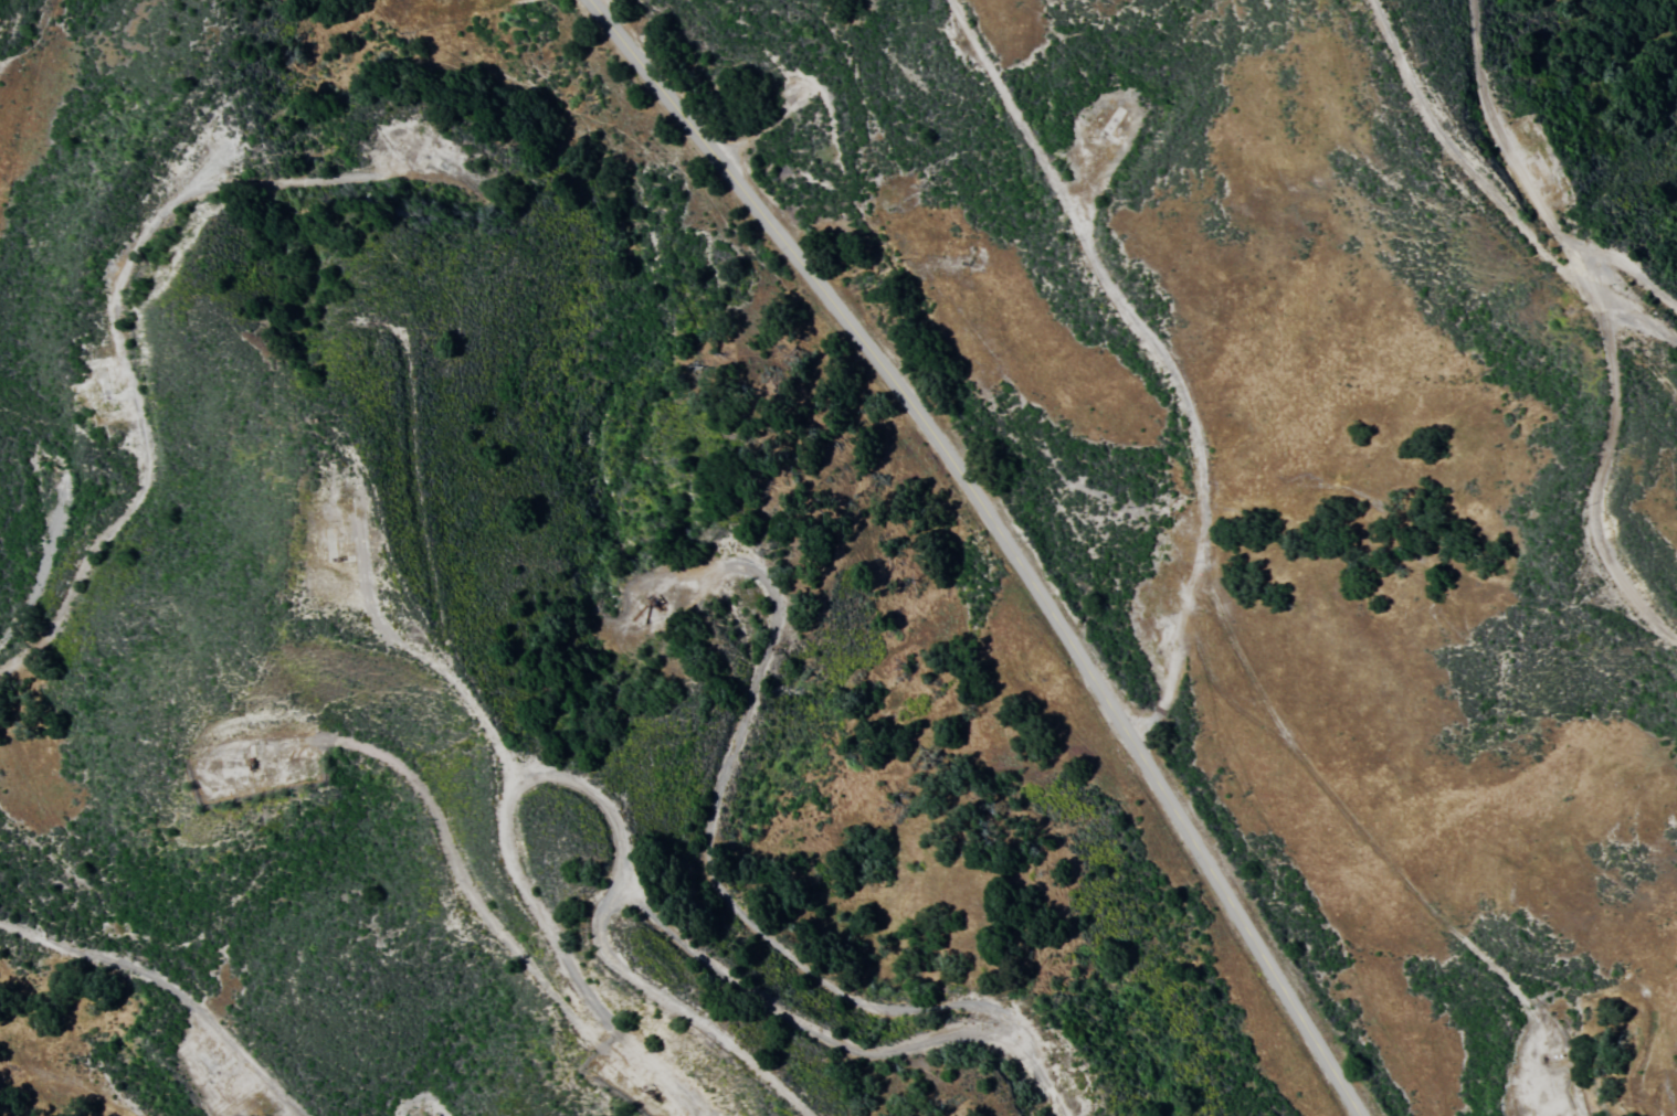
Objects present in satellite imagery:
road: (1500, 146)
road: (1493, 192)
road: (114, 288)
road: (1652, 317)
road: (1160, 354)
road: (1605, 455)
road: (1004, 538)
road: (433, 577)
road: (574, 786)
road: (703, 847)
road: (477, 901)
road: (171, 988)
road: (840, 1039)
road: (1568, 1064)

